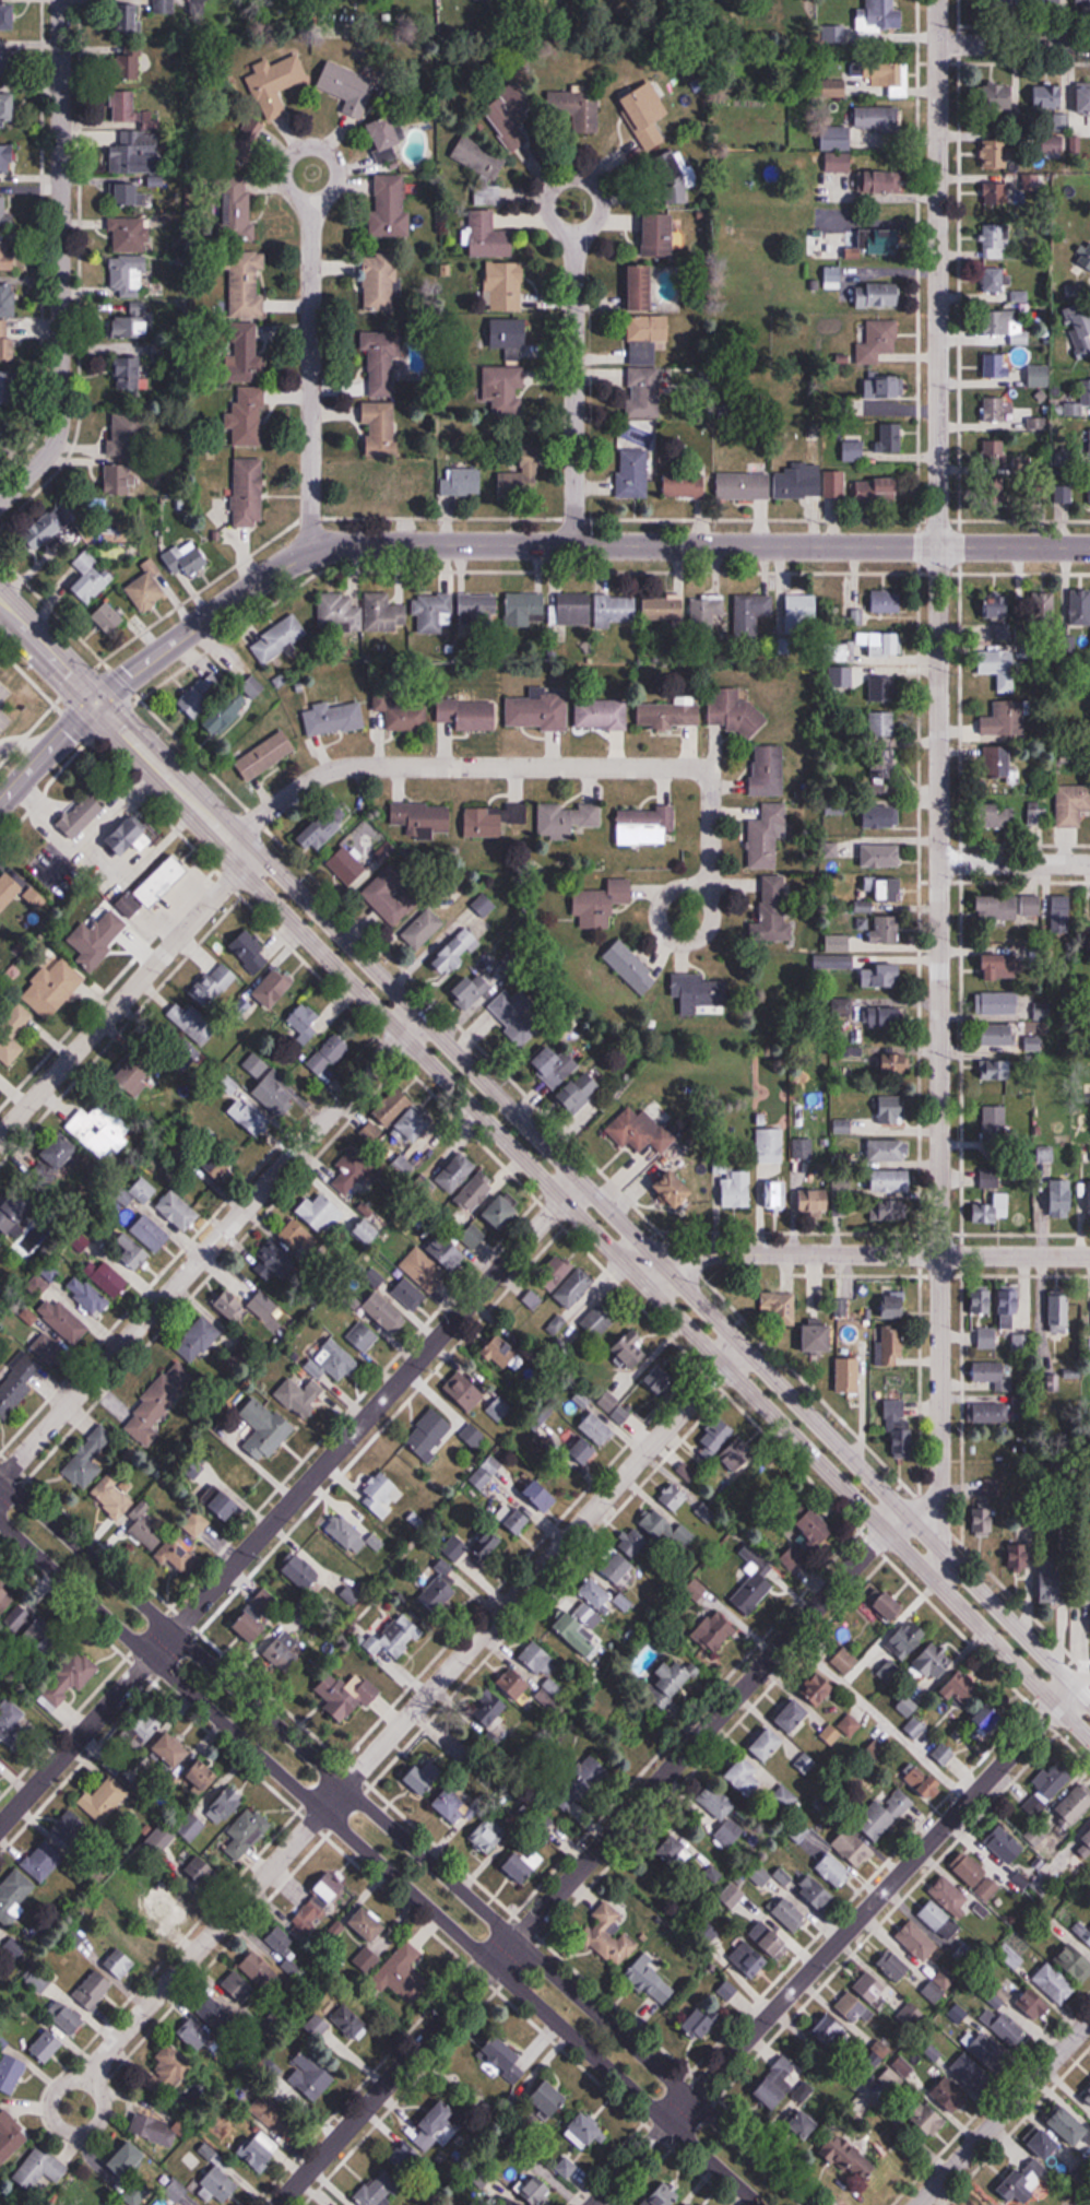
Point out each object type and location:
building: (1002, 1)
building: (1047, 1)
building: (1081, 1)
building: (165, 7)
building: (880, 15)
building: (8, 16)
building: (129, 19)
road: (1012, 45)
building: (7, 64)
building: (129, 64)
building: (885, 75)
building: (275, 83)
building: (348, 87)
building: (833, 87)
building: (998, 96)
building: (1047, 96)
building: (1085, 99)
building: (126, 106)
building: (8, 107)
building: (576, 109)
building: (647, 114)
building: (511, 117)
building: (875, 127)
building: (1064, 131)
building: (384, 139)
building: (133, 153)
building: (1004, 153)
building: (7, 157)
building: (485, 172)
building: (665, 179)
building: (885, 181)
building: (998, 189)
building: (120, 196)
building: (391, 205)
building: (237, 209)
building: (3, 211)
building: (129, 235)
building: (489, 236)
building: (660, 236)
building: (994, 241)
building: (880, 243)
building: (824, 246)
building: (8, 256)
road: (59, 261)
building: (128, 278)
building: (993, 280)
building: (246, 284)
building: (380, 284)
building: (506, 287)
building: (641, 288)
building: (878, 295)
building: (1019, 296)
building: (8, 302)
building: (131, 320)
building: (1009, 327)
building: (1080, 328)
building: (509, 334)
building: (647, 338)
building: (5, 342)
building: (877, 342)
road: (310, 344)
building: (244, 352)
road: (574, 355)
building: (383, 365)
building: (995, 365)
building: (131, 375)
building: (1039, 376)
building: (8, 388)
building: (503, 389)
building: (884, 389)
building: (644, 392)
building: (1082, 396)
building: (996, 413)
building: (247, 417)
building: (1036, 424)
building: (380, 432)
building: (128, 433)
building: (875, 443)
building: (996, 452)
building: (632, 473)
building: (522, 476)
building: (119, 479)
building: (390, 482)
building: (462, 482)
building: (799, 482)
building: (685, 483)
building: (836, 485)
building: (744, 486)
building: (1064, 491)
building: (248, 492)
building: (879, 492)
road: (498, 543)
building: (187, 561)
building: (91, 579)
building: (147, 592)
building: (886, 602)
building: (997, 605)
building: (1042, 606)
building: (1080, 606)
building: (801, 608)
building: (477, 609)
building: (525, 609)
building: (663, 609)
building: (572, 610)
building: (615, 610)
building: (706, 611)
building: (339, 613)
building: (431, 613)
building: (750, 613)
building: (383, 614)
building: (109, 620)
building: (1003, 632)
building: (277, 639)
building: (872, 646)
building: (1034, 650)
building: (999, 668)
building: (848, 676)
building: (882, 689)
building: (200, 697)
building: (234, 705)
building: (734, 712)
building: (536, 714)
building: (469, 715)
building: (602, 715)
building: (668, 715)
building: (406, 716)
building: (333, 718)
building: (1004, 720)
building: (881, 723)
building: (265, 756)
building: (884, 765)
building: (1003, 765)
road: (558, 766)
building: (767, 769)
road: (938, 773)
building: (1073, 804)
building: (1036, 813)
building: (81, 816)
building: (881, 816)
building: (998, 816)
building: (424, 819)
building: (567, 819)
building: (496, 821)
building: (644, 826)
building: (318, 834)
building: (130, 836)
building: (767, 838)
building: (881, 856)
road: (1014, 861)
building: (347, 865)
building: (137, 873)
building: (162, 882)
building: (881, 891)
building: (9, 892)
building: (395, 900)
building: (601, 904)
building: (129, 906)
building: (481, 907)
building: (1008, 907)
building: (774, 909)
building: (1062, 912)
building: (423, 929)
building: (886, 929)
building: (97, 939)
building: (838, 942)
building: (251, 951)
building: (457, 952)
building: (833, 960)
building: (630, 966)
building: (1002, 967)
building: (881, 976)
building: (213, 983)
building: (52, 988)
building: (274, 988)
road: (128, 990)
building: (476, 990)
building: (701, 993)
building: (998, 1003)
building: (513, 1012)
building: (885, 1016)
building: (17, 1017)
building: (304, 1022)
building: (193, 1024)
building: (998, 1035)
building: (10, 1049)
building: (329, 1053)
building: (896, 1062)
building: (555, 1065)
building: (994, 1071)
building: (0, 1074)
building: (132, 1074)
building: (580, 1092)
building: (275, 1094)
building: (891, 1109)
building: (398, 1119)
building: (994, 1121)
building: (628, 1124)
building: (98, 1129)
road: (545, 1142)
building: (770, 1145)
building: (802, 1147)
building: (888, 1149)
building: (60, 1152)
building: (221, 1163)
building: (404, 1164)
building: (352, 1171)
building: (457, 1172)
building: (990, 1178)
road: (544, 1180)
building: (890, 1180)
building: (675, 1189)
building: (736, 1189)
building: (143, 1191)
building: (476, 1191)
building: (1054, 1191)
building: (774, 1194)
building: (1085, 1196)
building: (814, 1201)
building: (993, 1210)
building: (15, 1211)
building: (178, 1211)
building: (887, 1213)
building: (333, 1214)
building: (489, 1223)
building: (152, 1233)
building: (297, 1237)
building: (31, 1238)
building: (0, 1245)
road: (209, 1245)
building: (447, 1251)
building: (130, 1252)
road: (874, 1253)
building: (275, 1262)
building: (424, 1271)
building: (110, 1280)
building: (576, 1288)
building: (408, 1296)
building: (90, 1298)
building: (532, 1299)
building: (982, 1301)
building: (230, 1305)
building: (893, 1305)
building: (781, 1306)
building: (1009, 1308)
building: (384, 1313)
building: (1052, 1313)
building: (602, 1318)
building: (1089, 1319)
building: (64, 1321)
building: (555, 1325)
building: (363, 1336)
building: (820, 1339)
building: (986, 1339)
building: (198, 1341)
building: (890, 1346)
building: (1017, 1346)
building: (630, 1351)
building: (500, 1353)
building: (336, 1360)
building: (854, 1372)
building: (27, 1375)
building: (994, 1375)
building: (664, 1379)
building: (465, 1391)
building: (299, 1398)
building: (158, 1404)
building: (631, 1406)
building: (991, 1413)
building: (900, 1427)
building: (597, 1428)
building: (265, 1429)
building: (430, 1435)
building: (718, 1436)
building: (583, 1451)
building: (87, 1459)
building: (703, 1476)
building: (991, 1485)
building: (380, 1494)
building: (542, 1495)
building: (112, 1497)
building: (674, 1498)
road: (289, 1501)
building: (225, 1506)
building: (518, 1519)
building: (984, 1519)
building: (655, 1524)
building: (196, 1526)
building: (144, 1529)
building: (346, 1533)
building: (808, 1538)
building: (635, 1543)
building: (475, 1546)
building: (177, 1554)
road: (544, 1564)
building: (615, 1566)
building: (300, 1572)
building: (442, 1584)
building: (754, 1591)
building: (595, 1594)
building: (4, 1595)
building: (889, 1606)
building: (1087, 1619)
building: (253, 1625)
building: (580, 1629)
building: (714, 1632)
building: (395, 1639)
building: (908, 1641)
building: (284, 1654)
building: (844, 1661)
building: (932, 1662)
building: (533, 1670)
building: (71, 1676)
building: (673, 1682)
road: (1083, 1687)
building: (819, 1690)
building: (959, 1691)
building: (349, 1697)
building: (907, 1707)
building: (493, 1711)
building: (793, 1718)
building: (988, 1720)
building: (12, 1726)
building: (914, 1729)
building: (768, 1745)
building: (173, 1749)
building: (202, 1776)
building: (587, 1776)
building: (424, 1778)
building: (745, 1778)
building: (1050, 1785)
building: (103, 1797)
building: (1076, 1805)
building: (452, 1806)
building: (213, 1812)
building: (722, 1817)
building: (881, 1817)
building: (71, 1829)
road: (416, 1829)
building: (247, 1832)
building: (161, 1838)
building: (489, 1838)
road: (406, 1840)
building: (1085, 1844)
building: (1005, 1846)
building: (853, 1848)
building: (675, 1852)
road: (589, 1856)
building: (44, 1860)
road: (379, 1863)
building: (524, 1866)
building: (833, 1871)
building: (202, 1873)
road: (367, 1874)
building: (760, 1877)
building: (979, 1879)
building: (815, 1892)
building: (14, 1894)
building: (732, 1896)
building: (952, 1897)
building: (167, 1902)
building: (317, 1906)
building: (791, 1915)
building: (939, 1921)
building: (368, 1925)
road: (215, 1931)
building: (1, 1932)
building: (1082, 1932)
building: (608, 1936)
building: (140, 1937)
building: (769, 1939)
building: (281, 1942)
building: (917, 1942)
road: (833, 1945)
building: (749, 1959)
building: (367, 1960)
building: (120, 1962)
building: (897, 1967)
building: (396, 1968)
building: (259, 1970)
building: (38, 1979)
building: (652, 1982)
building: (1055, 1983)
building: (238, 1986)
building: (94, 1989)
building: (874, 1991)
building: (1033, 2005)
building: (854, 2008)
building: (215, 2014)
building: (911, 2015)
building: (67, 2016)
building: (349, 2021)
building: (702, 2024)
building: (318, 2026)
building: (1009, 2029)
building: (832, 2032)
building: (196, 2037)
building: (47, 2044)
building: (987, 2051)
building: (511, 2059)
building: (12, 2070)
building: (169, 2071)
building: (969, 2074)
building: (311, 2078)
road: (62, 2080)
building: (778, 2083)
building: (1088, 2095)
building: (550, 2100)
building: (940, 2108)
road: (1004, 2111)
building: (803, 2123)
building: (1068, 2124)
building: (434, 2126)
building: (588, 2130)
building: (154, 2131)
building: (10, 2136)
building: (1045, 2145)
building: (260, 2150)
building: (405, 2158)
building: (127, 2160)
building: (40, 2168)
building: (567, 2168)
building: (479, 2175)
building: (218, 2177)
building: (1023, 2183)
building: (376, 2189)
building: (536, 2192)
building: (663, 2195)
building: (336, 2204)
building: (688, 2204)

